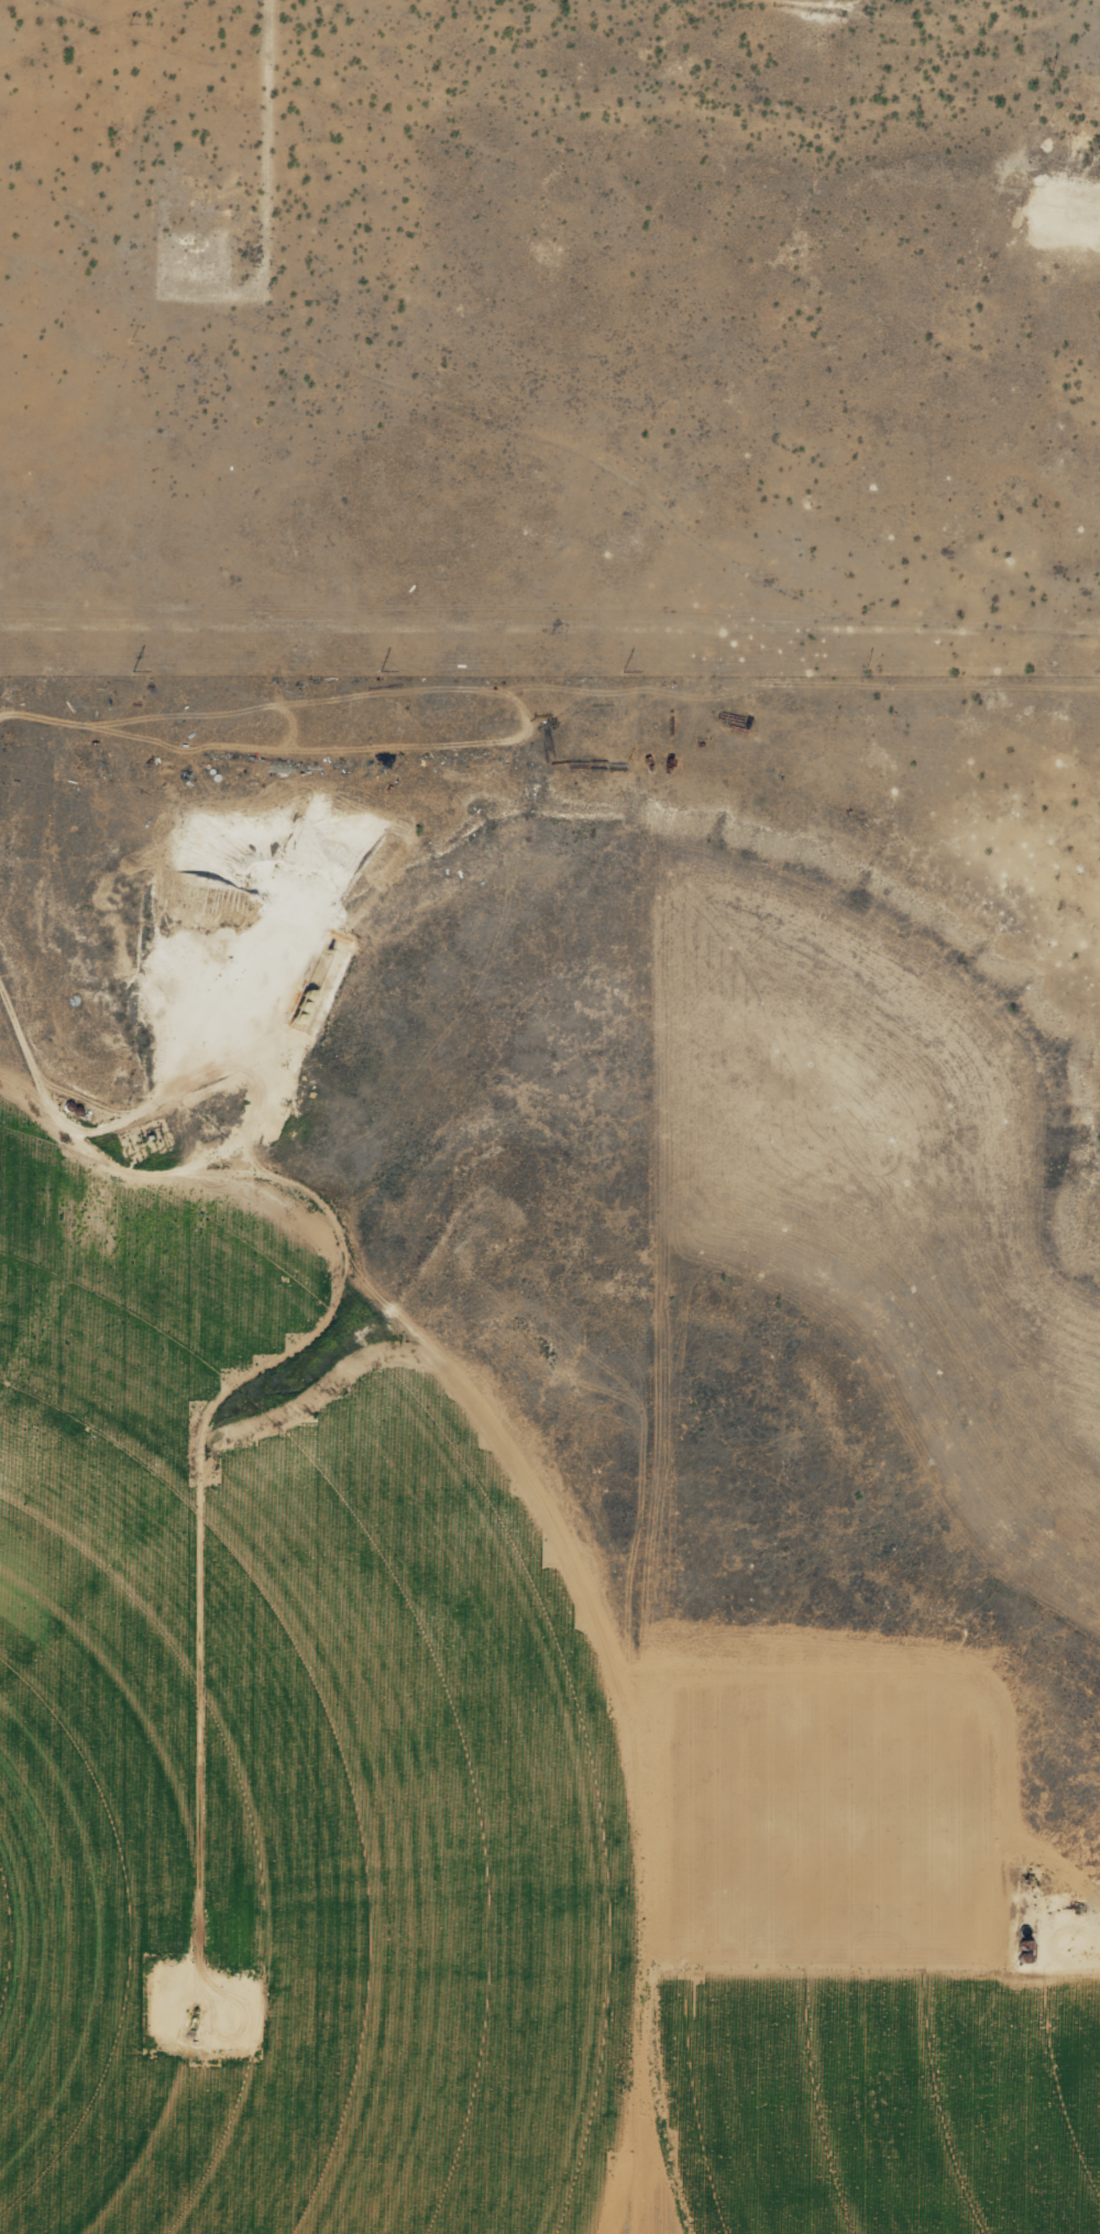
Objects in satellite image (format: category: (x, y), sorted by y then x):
road: (269, 97)
road: (1088, 249)

